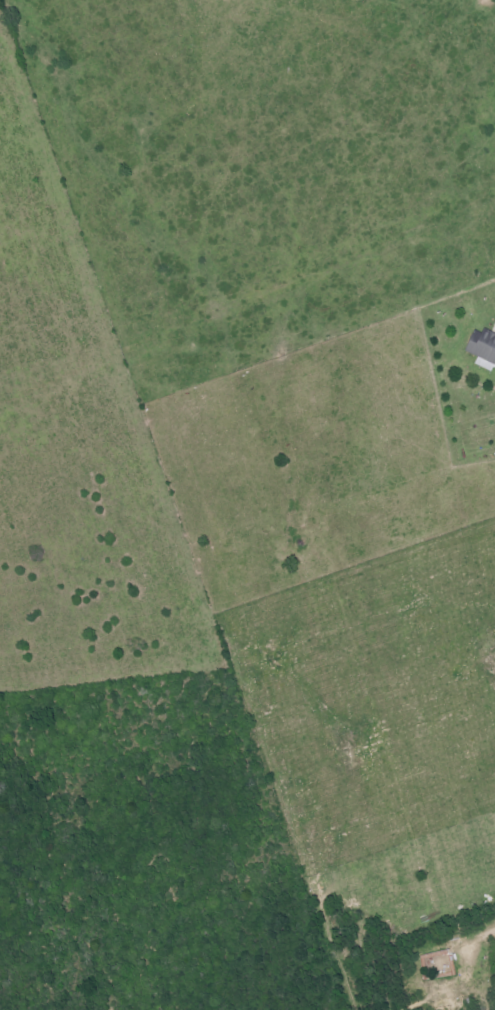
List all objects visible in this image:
building: (482, 349)

